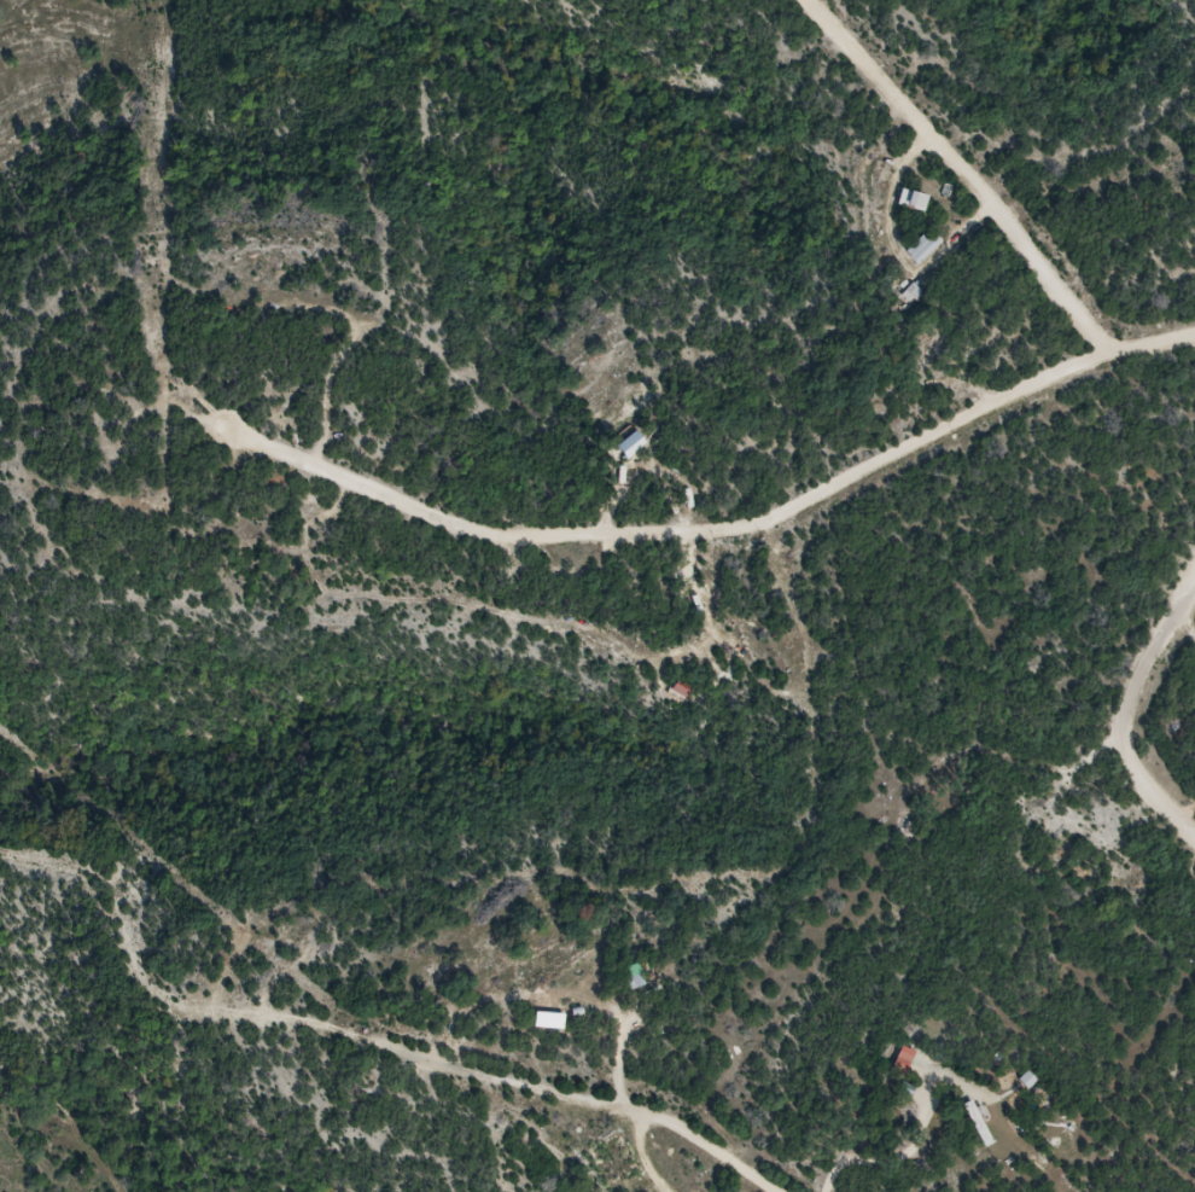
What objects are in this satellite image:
road: (958, 171)
building: (922, 203)
building: (926, 249)
road: (719, 524)
road: (1130, 700)
building: (639, 984)
road: (579, 1094)
building: (977, 1121)
road: (892, 1156)
building: (617, 1161)

